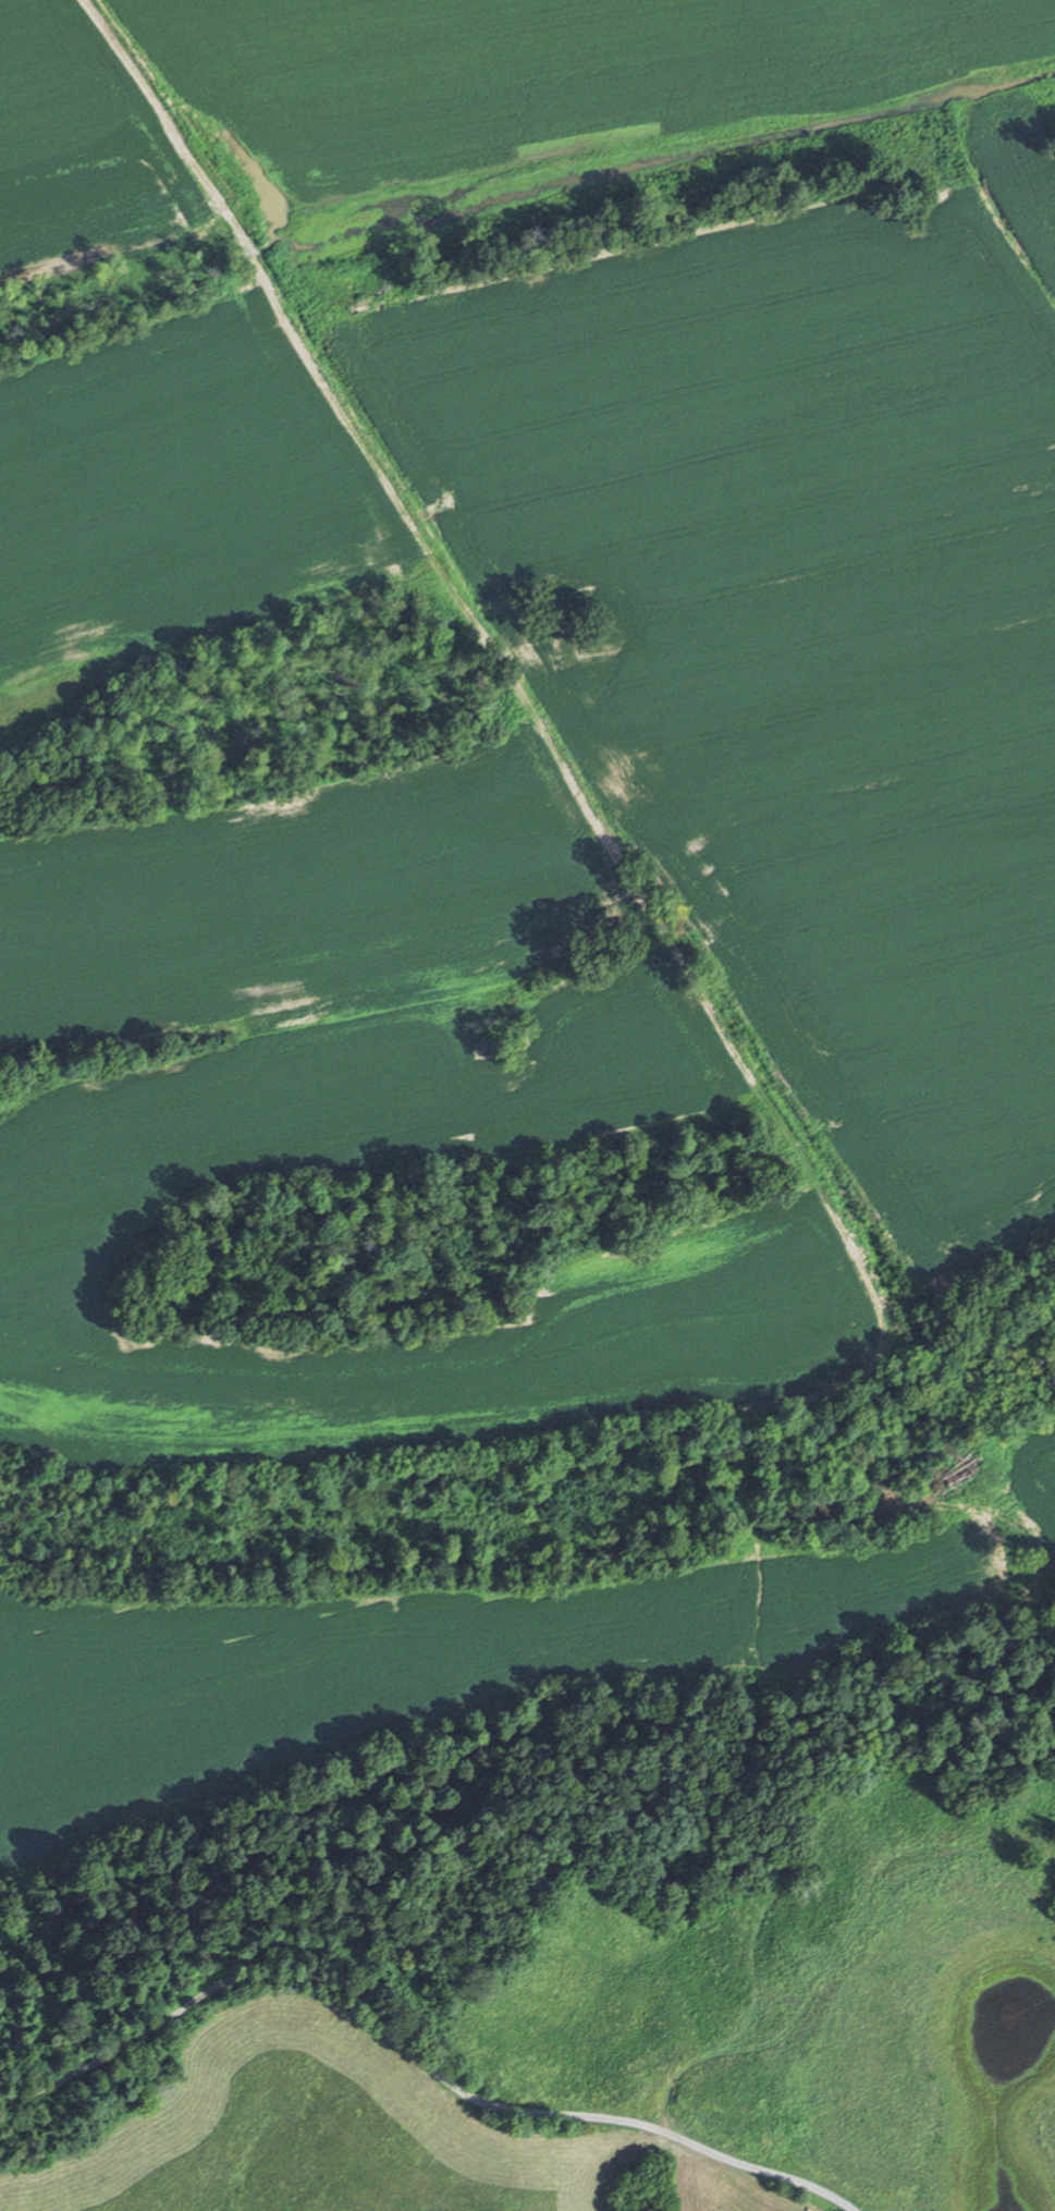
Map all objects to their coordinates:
road: (417, 2048)

